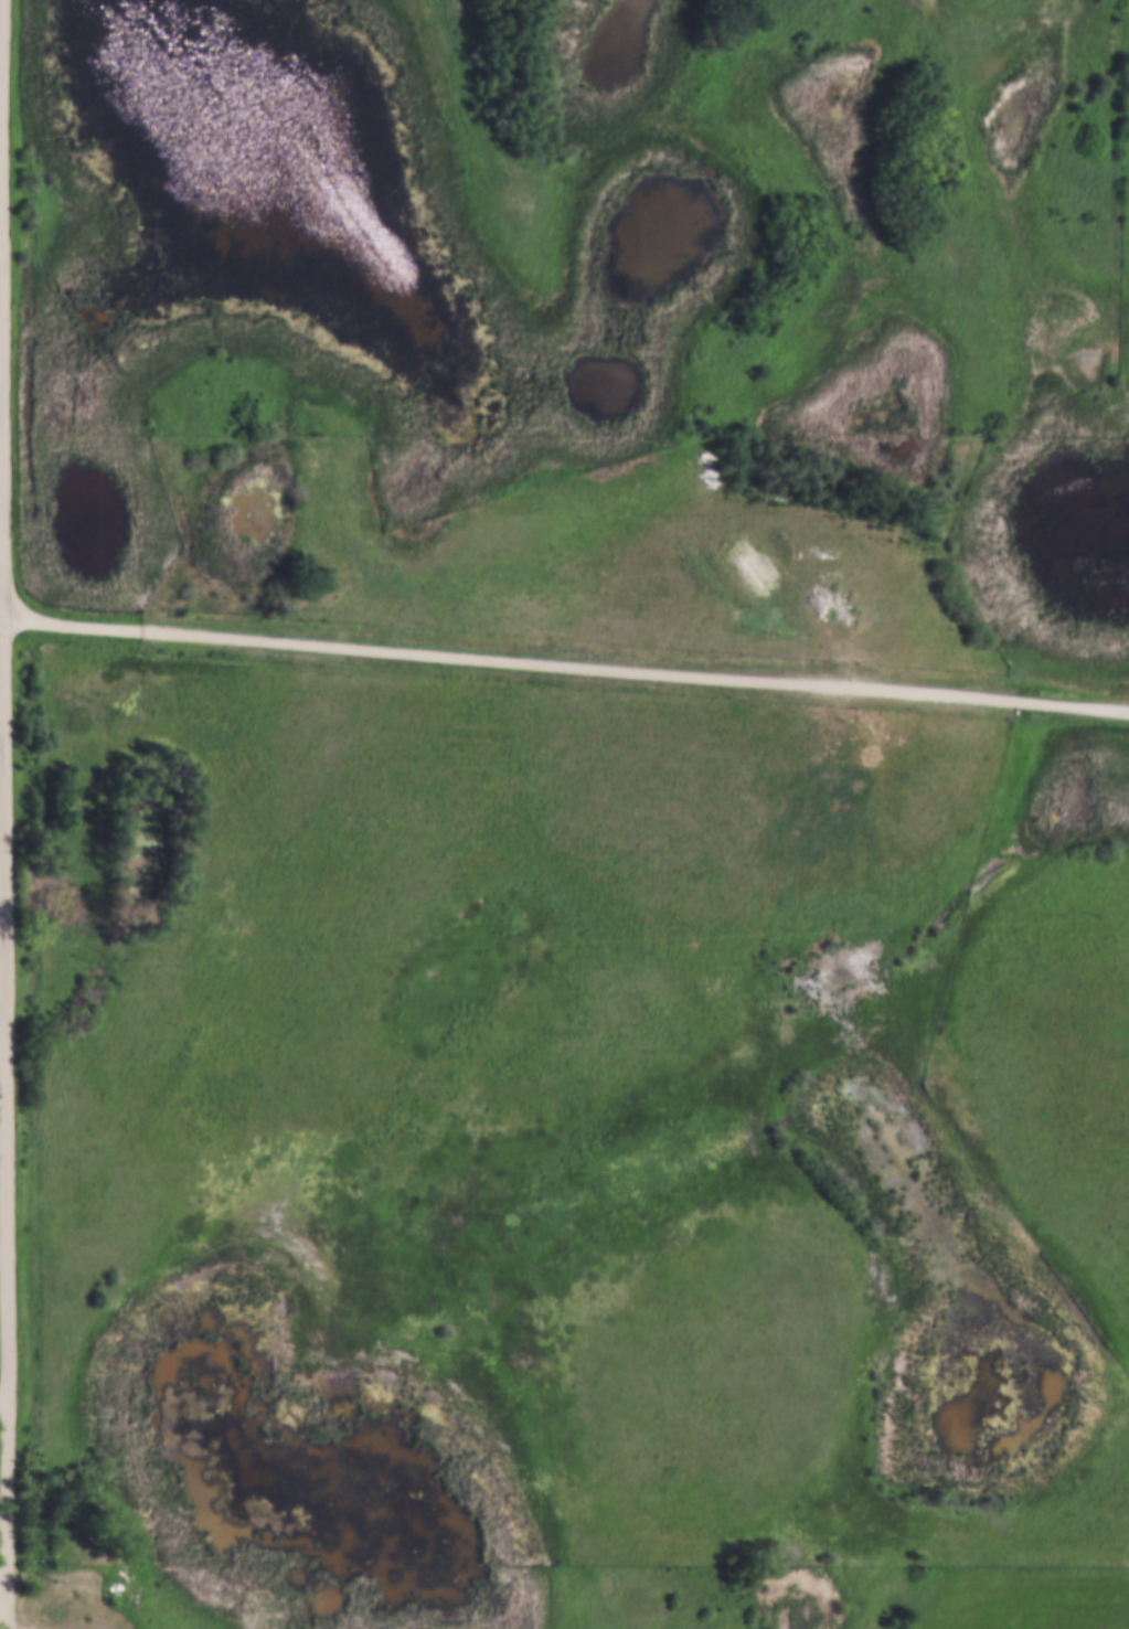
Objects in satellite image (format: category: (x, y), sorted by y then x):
road: (566, 664)
road: (3, 796)
road: (7, 813)
road: (3, 908)
building: (56, 1605)

